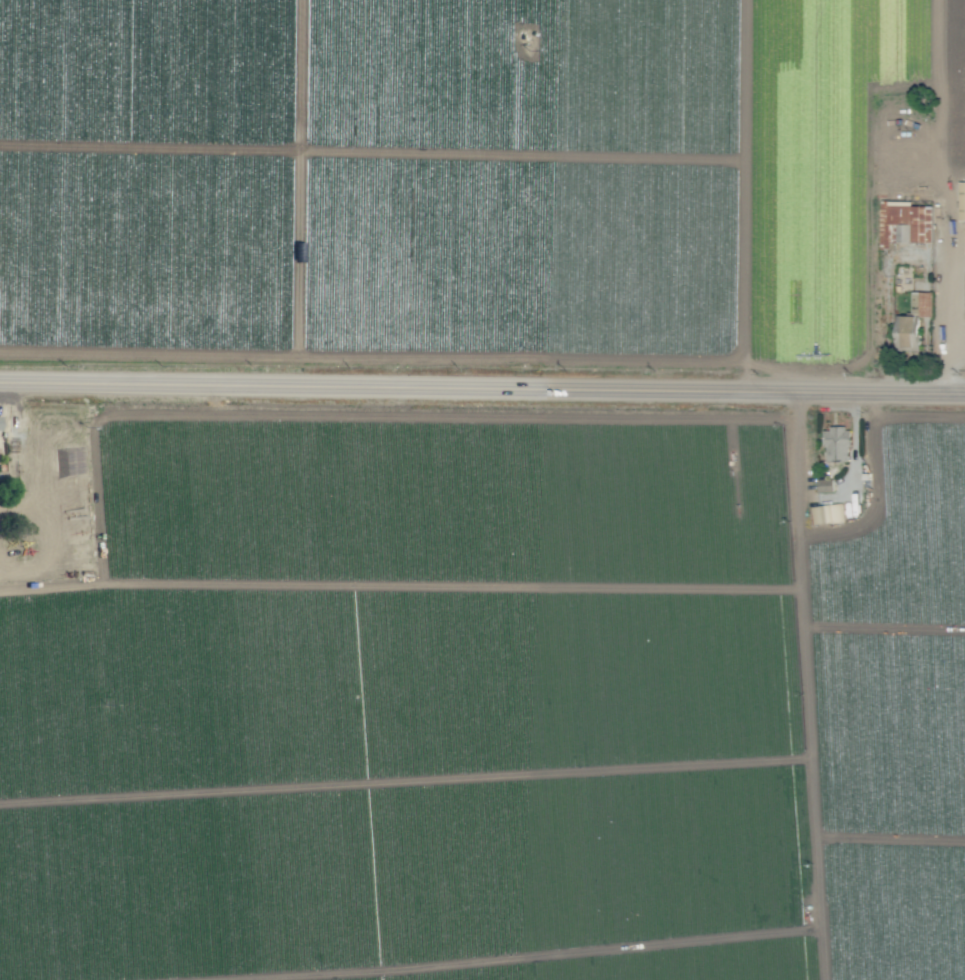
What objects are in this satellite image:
road: (752, 196)
building: (962, 201)
building: (903, 223)
road: (950, 298)
building: (924, 303)
building: (908, 332)
road: (482, 389)
building: (837, 444)
road: (854, 446)
crop: (482, 490)
building: (827, 513)

